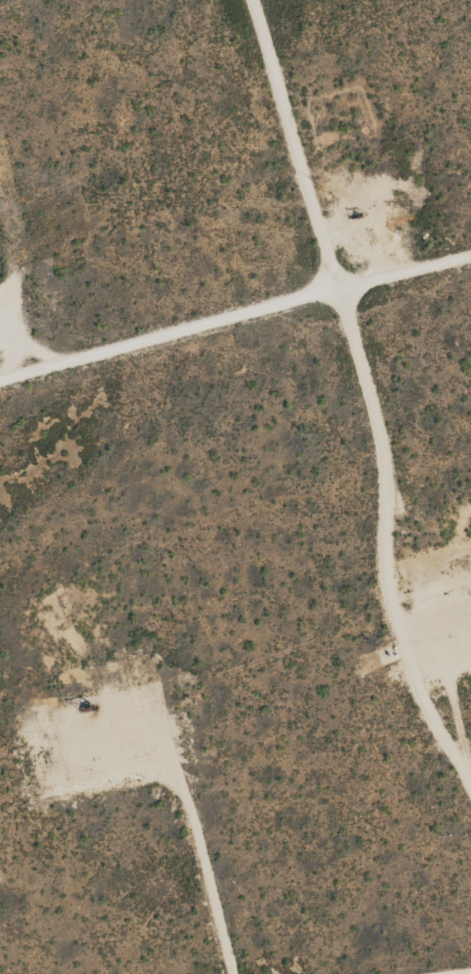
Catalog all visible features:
petroleum well: (356, 216)
road: (235, 313)
road: (372, 396)
petroleum well: (461, 595)
petroleum well: (87, 704)
road: (459, 971)

